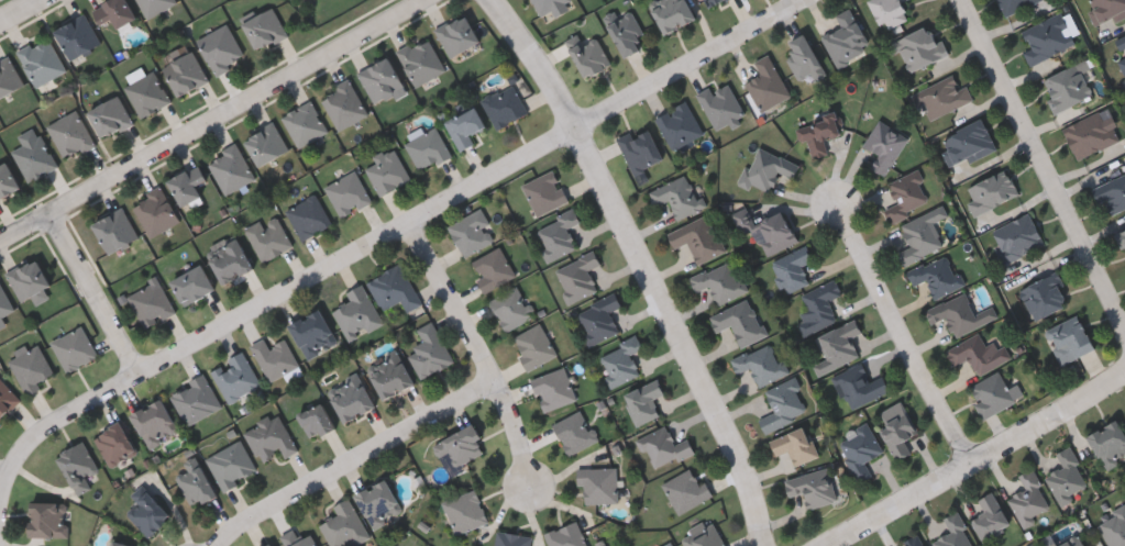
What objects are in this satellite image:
building: (710, 2)
building: (154, 5)
building: (1014, 5)
building: (552, 7)
road: (15, 9)
building: (1107, 10)
building: (114, 11)
building: (887, 12)
building: (670, 13)
building: (264, 27)
building: (624, 31)
building: (457, 34)
building: (76, 35)
building: (1046, 37)
building: (845, 40)
building: (917, 47)
building: (221, 48)
building: (1121, 49)
building: (586, 53)
building: (41, 59)
building: (803, 59)
building: (421, 62)
building: (185, 73)
building: (9, 76)
building: (380, 78)
building: (765, 83)
building: (1069, 85)
building: (147, 93)
building: (942, 97)
building: (344, 104)
building: (719, 104)
building: (503, 105)
building: (110, 115)
road: (216, 118)
building: (305, 123)
building: (679, 124)
building: (463, 125)
building: (1091, 133)
building: (71, 134)
building: (817, 134)
building: (266, 143)
building: (967, 143)
building: (426, 146)
building: (884, 146)
building: (639, 148)
building: (35, 158)
road: (1040, 166)
building: (231, 168)
building: (765, 168)
building: (386, 170)
building: (7, 179)
building: (186, 183)
building: (990, 190)
building: (544, 192)
building: (348, 193)
building: (906, 194)
building: (1112, 194)
building: (676, 196)
building: (155, 211)
building: (308, 216)
building: (115, 230)
building: (471, 232)
building: (771, 232)
building: (558, 234)
road: (371, 236)
building: (920, 236)
building: (268, 237)
building: (1017, 237)
building: (696, 238)
building: (1122, 238)
building: (229, 258)
road: (641, 266)
building: (492, 268)
building: (791, 269)
building: (575, 277)
building: (937, 277)
building: (27, 279)
building: (718, 281)
building: (191, 283)
building: (394, 288)
road: (93, 290)
building: (1044, 296)
building: (4, 303)
building: (151, 303)
building: (510, 307)
building: (818, 307)
building: (356, 312)
building: (960, 313)
building: (597, 317)
building: (739, 322)
building: (311, 333)
road: (900, 333)
building: (1068, 339)
road: (482, 345)
building: (533, 346)
building: (837, 347)
building: (74, 348)
building: (429, 350)
building: (978, 354)
building: (274, 356)
building: (619, 360)
building: (760, 363)
building: (32, 368)
building: (388, 374)
building: (235, 376)
building: (858, 387)
building: (552, 388)
building: (993, 394)
building: (350, 398)
building: (7, 399)
building: (195, 399)
building: (642, 401)
building: (782, 404)
building: (315, 420)
building: (153, 422)
building: (896, 428)
building: (574, 432)
building: (269, 437)
building: (113, 443)
building: (1109, 443)
building: (460, 444)
building: (794, 445)
building: (664, 447)
building: (859, 449)
road: (346, 458)
road: (973, 459)
building: (230, 464)
building: (77, 466)
building: (1066, 476)
building: (195, 482)
building: (597, 483)
building: (812, 488)
building: (684, 489)
building: (1028, 499)
building: (377, 503)
building: (464, 511)
building: (146, 512)
building: (990, 516)
building: (46, 521)
building: (344, 526)
building: (1113, 527)
building: (952, 533)
building: (565, 535)
building: (702, 535)
building: (511, 538)
building: (298, 539)
building: (912, 542)
building: (1072, 542)
building: (119, 544)
building: (668, 544)
building: (271, 545)

